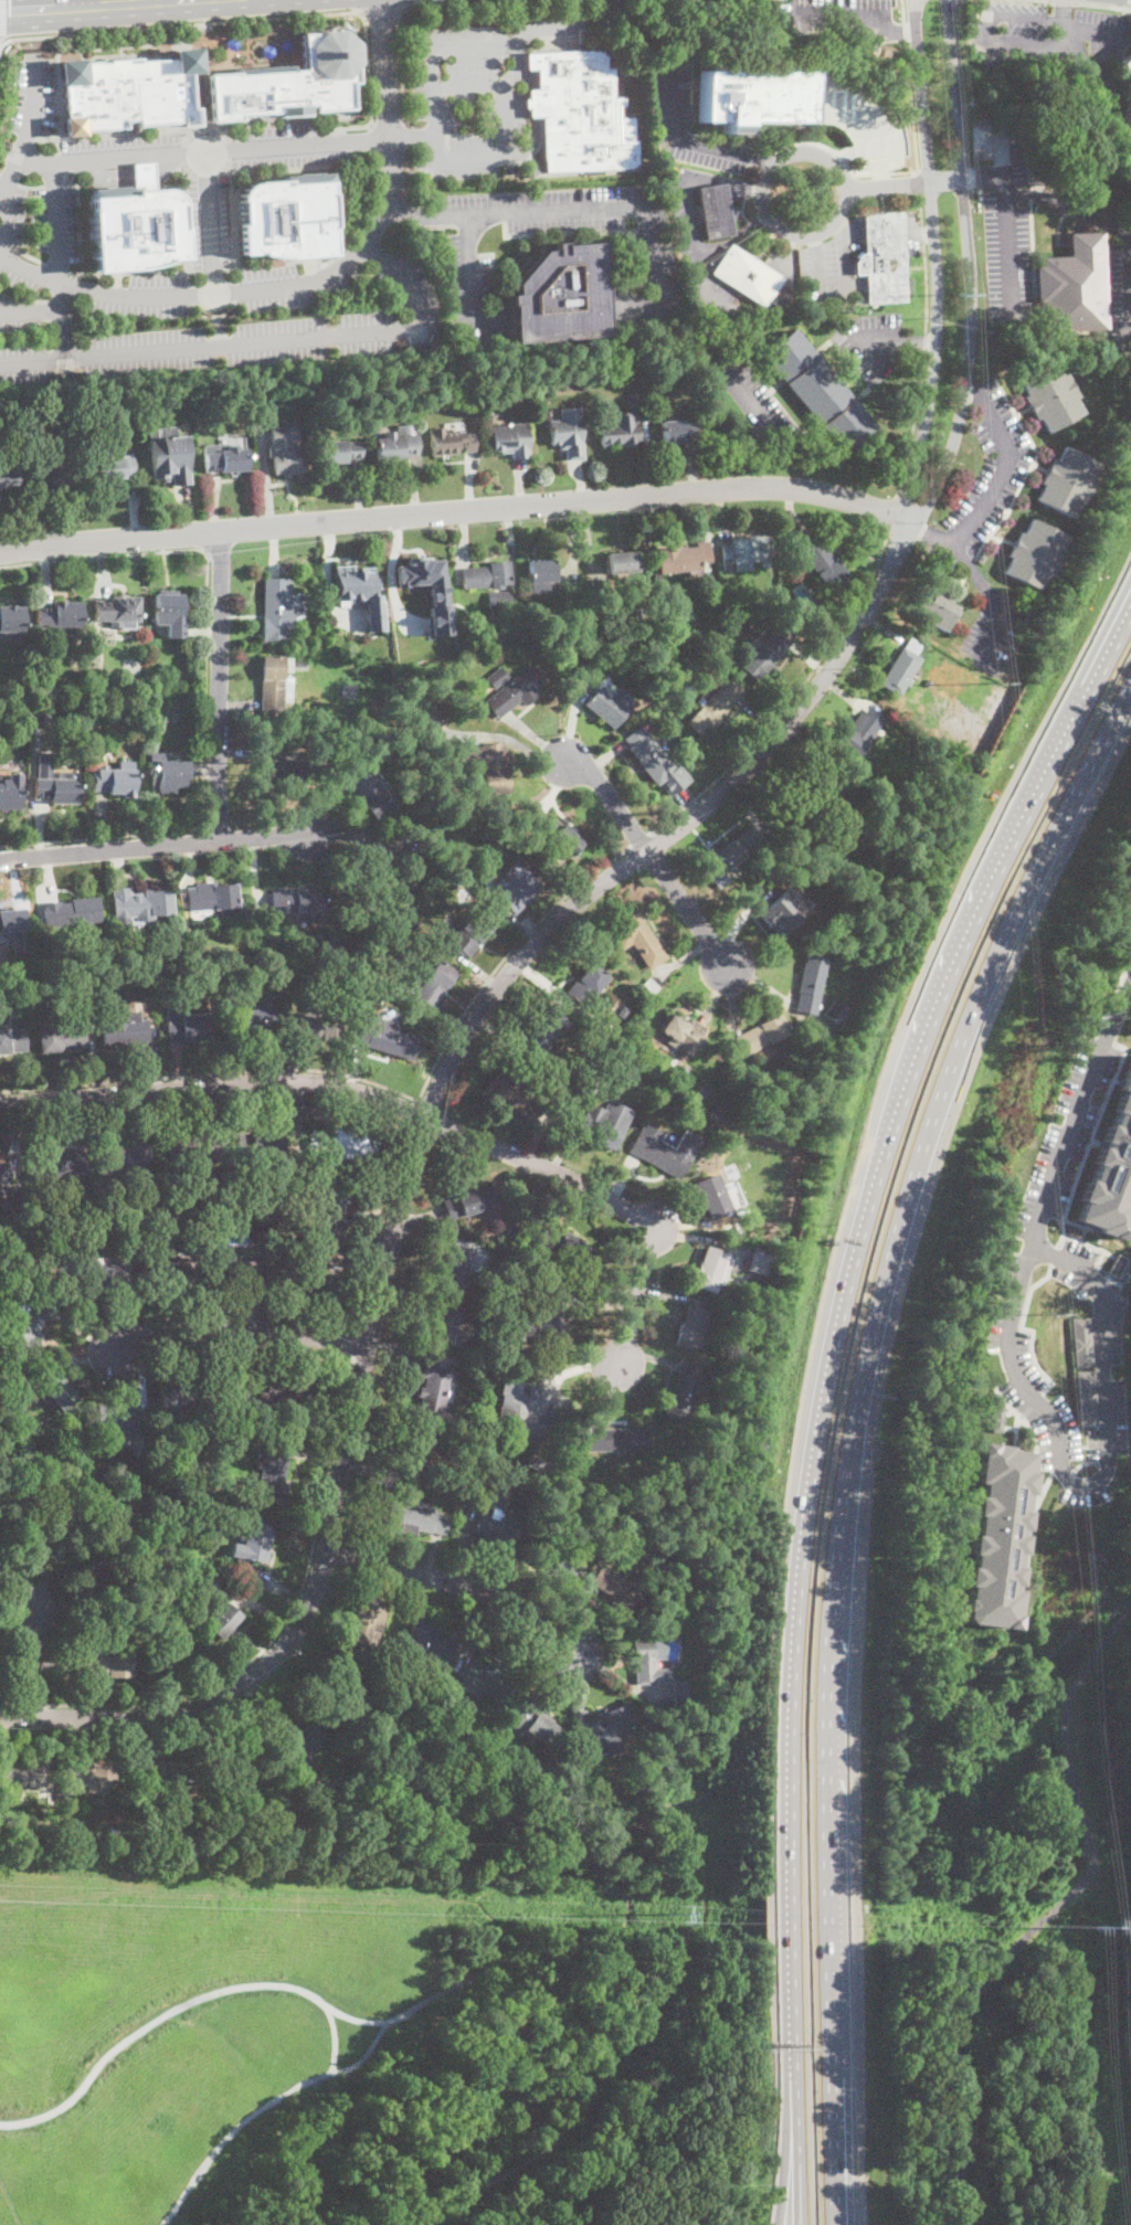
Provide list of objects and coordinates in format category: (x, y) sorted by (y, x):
road: (1063, 1)
road: (84, 6)
road: (1102, 6)
road: (380, 13)
road: (1059, 13)
road: (398, 14)
road: (262, 18)
road: (0, 19)
road: (1025, 20)
road: (1093, 31)
road: (0, 41)
road: (477, 46)
road: (1015, 47)
parking lot: (1059, 55)
building: (286, 80)
road: (467, 88)
building: (126, 91)
road: (384, 92)
road: (1089, 93)
building: (751, 97)
building: (580, 112)
building: (1128, 112)
road: (431, 114)
road: (536, 119)
parking lot: (686, 119)
road: (869, 124)
road: (403, 136)
road: (372, 140)
road: (689, 144)
road: (20, 152)
road: (202, 153)
road: (469, 157)
building: (530, 171)
road: (409, 176)
road: (687, 176)
road: (982, 179)
road: (903, 183)
road: (762, 186)
road: (372, 205)
road: (589, 210)
building: (715, 210)
building: (284, 219)
road: (1004, 223)
road: (211, 224)
parking lot: (1005, 224)
road: (55, 225)
building: (131, 229)
parking lot: (288, 229)
road: (1116, 231)
road: (8, 246)
road: (31, 257)
road: (843, 257)
building: (882, 258)
road: (934, 261)
road: (815, 264)
road: (465, 267)
road: (968, 267)
road: (56, 268)
road: (88, 273)
building: (747, 275)
building: (1072, 285)
road: (219, 295)
building: (561, 295)
power tower: (964, 296)
parking lot: (1119, 298)
road: (31, 311)
road: (62, 319)
road: (262, 340)
road: (899, 341)
building: (1095, 342)
parking lot: (868, 343)
building: (817, 391)
building: (1049, 398)
parking lot: (751, 402)
building: (398, 410)
road: (753, 421)
building: (620, 431)
building: (678, 431)
building: (568, 433)
building: (279, 435)
building: (510, 438)
building: (450, 441)
building: (395, 445)
building: (339, 451)
building: (168, 454)
building: (225, 460)
building: (285, 462)
building: (113, 466)
road: (1004, 467)
building: (8, 475)
building: (55, 478)
building: (1066, 481)
building: (0, 498)
road: (456, 511)
parking lot: (986, 527)
building: (746, 552)
building: (1034, 554)
building: (981, 558)
building: (678, 560)
building: (622, 562)
building: (824, 562)
building: (540, 575)
building: (487, 576)
road: (980, 583)
building: (427, 587)
building: (600, 590)
building: (359, 591)
building: (499, 598)
road: (1127, 607)
building: (732, 608)
building: (934, 608)
building: (277, 610)
building: (116, 611)
building: (170, 615)
building: (60, 617)
building: (11, 622)
road: (842, 626)
building: (717, 632)
building: (568, 635)
building: (536, 649)
building: (772, 649)
building: (635, 664)
building: (902, 671)
building: (276, 682)
building: (98, 684)
road: (219, 686)
road: (205, 687)
building: (510, 690)
building: (53, 692)
building: (684, 692)
building: (607, 703)
building: (315, 706)
building: (716, 707)
building: (303, 708)
power tower: (1008, 716)
building: (42, 719)
building: (433, 720)
building: (659, 731)
building: (860, 732)
building: (338, 733)
building: (376, 738)
building: (362, 742)
building: (649, 756)
building: (276, 766)
building: (490, 766)
building: (168, 775)
building: (114, 782)
building: (55, 790)
building: (810, 792)
building: (370, 793)
building: (9, 796)
building: (558, 834)
road: (154, 845)
road: (652, 856)
building: (729, 856)
building: (370, 866)
building: (456, 883)
building: (517, 889)
building: (213, 898)
building: (142, 903)
building: (298, 904)
building: (784, 910)
building: (73, 912)
building: (11, 920)
building: (372, 922)
building: (469, 934)
building: (636, 939)
building: (161, 954)
building: (150, 963)
building: (370, 971)
building: (156, 976)
building: (202, 979)
building: (394, 982)
building: (435, 984)
building: (810, 984)
building: (586, 985)
building: (646, 988)
building: (1, 996)
building: (36, 998)
building: (234, 998)
building: (835, 1010)
building: (622, 1011)
building: (256, 1018)
building: (191, 1026)
building: (320, 1026)
building: (126, 1031)
building: (542, 1031)
building: (683, 1035)
building: (761, 1035)
building: (62, 1038)
building: (604, 1038)
building: (387, 1039)
building: (12, 1040)
building: (620, 1043)
power tower: (1030, 1047)
building: (781, 1057)
building: (700, 1064)
building: (683, 1068)
building: (616, 1070)
road: (211, 1072)
building: (509, 1094)
road: (408, 1110)
road: (413, 1111)
road: (1075, 1114)
building: (605, 1123)
building: (346, 1144)
building: (261, 1145)
building: (195, 1147)
building: (656, 1151)
road: (413, 1152)
building: (128, 1157)
building: (57, 1166)
building: (1109, 1168)
building: (4, 1172)
building: (285, 1172)
building: (211, 1184)
building: (204, 1197)
building: (469, 1201)
building: (714, 1201)
building: (265, 1208)
building: (235, 1221)
building: (328, 1223)
building: (165, 1226)
building: (182, 1227)
building: (510, 1230)
building: (558, 1244)
building: (760, 1260)
building: (456, 1268)
building: (166, 1270)
building: (710, 1270)
building: (232, 1272)
building: (105, 1276)
building: (313, 1281)
building: (497, 1299)
road: (841, 1307)
power tower: (1049, 1318)
building: (551, 1321)
building: (31, 1322)
building: (450, 1326)
building: (690, 1327)
road: (237, 1328)
building: (1081, 1344)
building: (715, 1379)
building: (57, 1389)
building: (283, 1389)
building: (436, 1395)
building: (683, 1397)
building: (1084, 1398)
building: (184, 1399)
building: (522, 1412)
building: (116, 1418)
building: (997, 1419)
road: (857, 1433)
building: (472, 1435)
building: (625, 1440)
building: (415, 1455)
building: (473, 1472)
building: (273, 1473)
building: (526, 1475)
building: (207, 1482)
road: (1093, 1484)
building: (572, 1485)
building: (219, 1511)
building: (416, 1519)
building: (613, 1519)
building: (495, 1521)
road: (317, 1526)
building: (34, 1537)
building: (992, 1541)
building: (254, 1543)
building: (556, 1566)
building: (92, 1579)
road: (459, 1582)
building: (614, 1589)
building: (220, 1619)
building: (366, 1621)
building: (429, 1641)
building: (168, 1659)
building: (645, 1660)
road: (32, 1661)
building: (103, 1663)
park: (1044, 1678)
building: (488, 1681)
building: (377, 1684)
building: (681, 1692)
building: (371, 1697)
building: (454, 1720)
building: (533, 1723)
building: (606, 1726)
building: (302, 1740)
building: (679, 1752)
building: (557, 1762)
building: (672, 1763)
building: (236, 1771)
building: (161, 1772)
building: (25, 1773)
building: (94, 1773)
building: (467, 1783)
building: (625, 1801)
building: (199, 1815)
building: (144, 1826)
building: (50, 1829)
building: (115, 1831)
road: (1051, 1910)
power tower: (668, 1914)
power tower: (1097, 1930)
road: (408, 2011)
park: (994, 2015)
road: (334, 2037)
park: (357, 2037)
road: (262, 2106)
road: (786, 2145)
road: (799, 2145)
road: (956, 2217)

